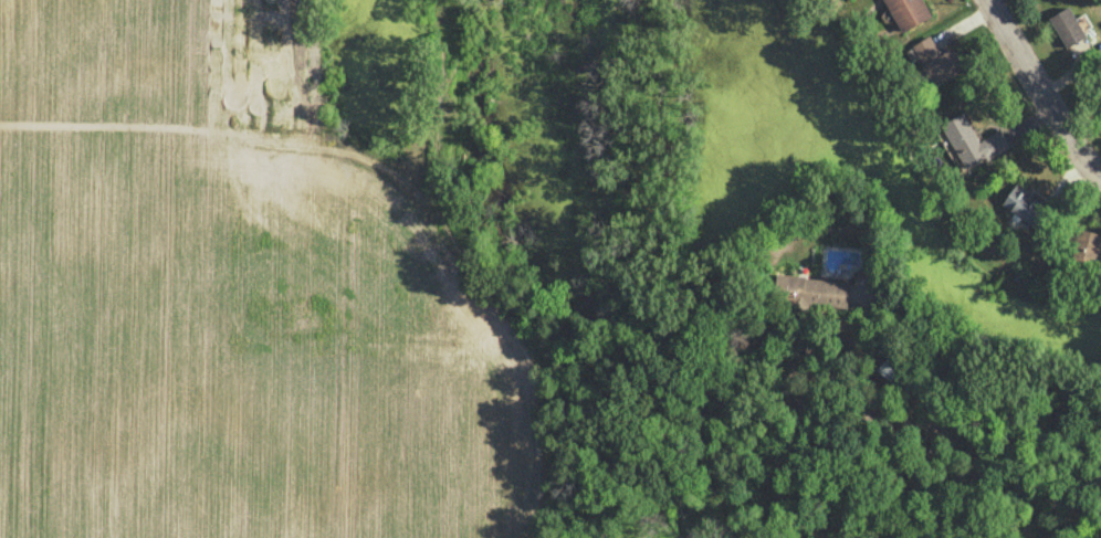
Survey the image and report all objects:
building: (906, 12)
building: (1067, 27)
building: (934, 60)
road: (1037, 92)
building: (971, 140)
building: (1023, 201)
building: (1086, 246)
building: (811, 291)

